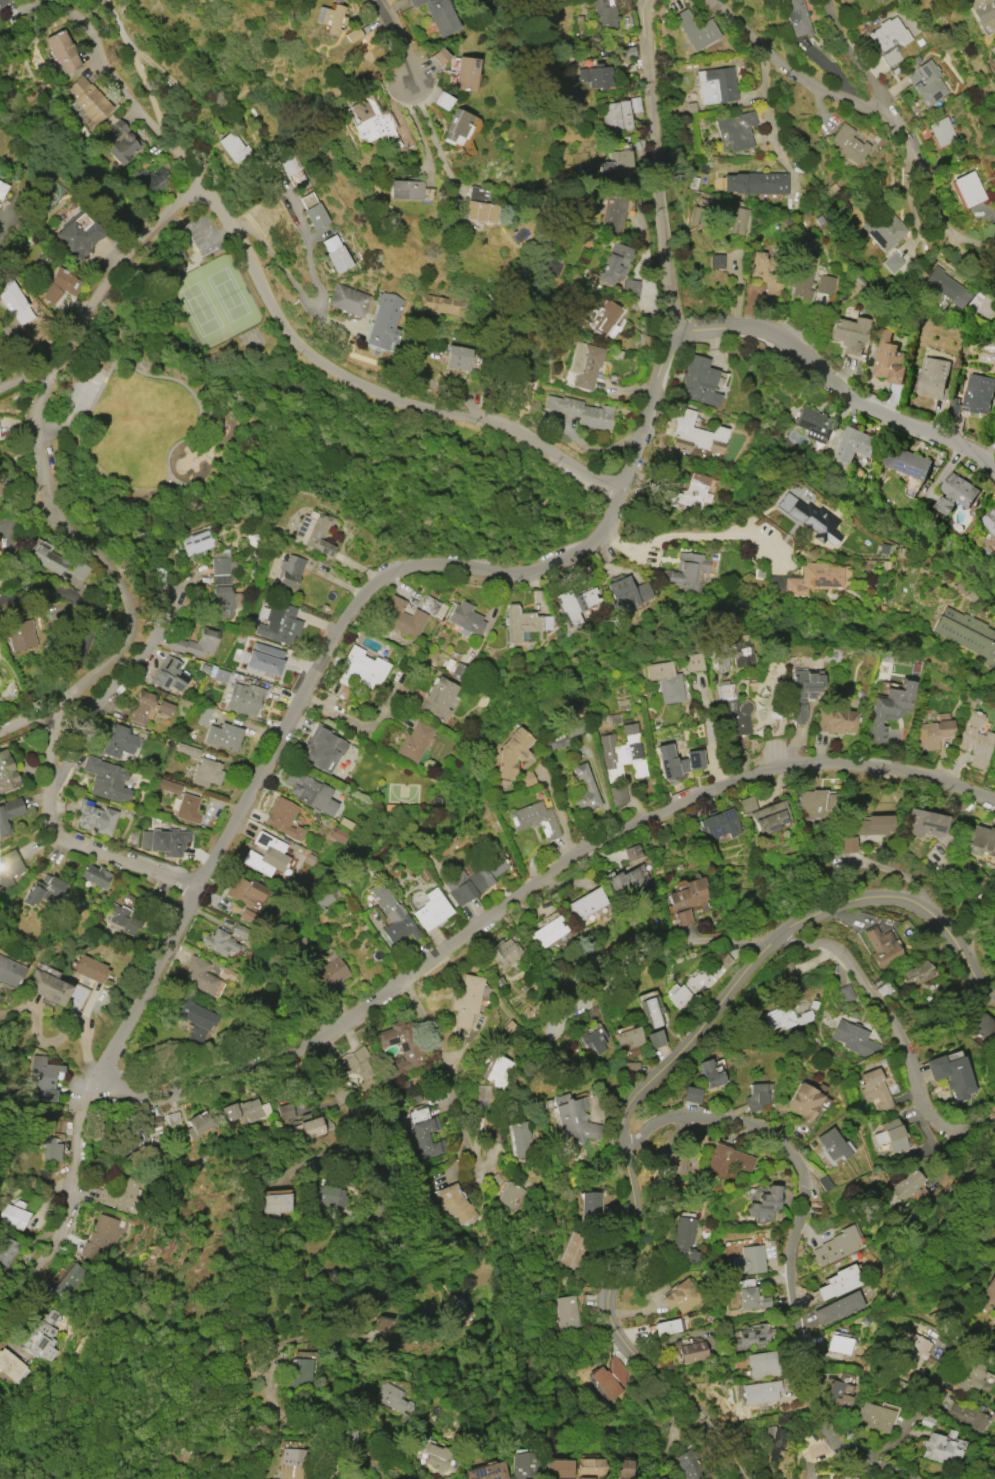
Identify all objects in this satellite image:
building: (3, 2)
building: (983, 13)
building: (438, 15)
building: (605, 15)
building: (796, 17)
building: (332, 19)
building: (696, 30)
building: (888, 33)
road: (393, 34)
building: (353, 35)
building: (61, 51)
building: (993, 59)
road: (789, 71)
building: (464, 73)
road: (139, 74)
building: (595, 76)
building: (927, 83)
building: (716, 85)
building: (89, 99)
building: (442, 100)
road: (768, 115)
building: (616, 116)
building: (373, 122)
building: (456, 127)
road: (430, 131)
building: (735, 131)
building: (941, 132)
building: (121, 142)
building: (848, 143)
road: (898, 146)
building: (233, 147)
building: (288, 163)
building: (615, 164)
road: (663, 165)
building: (152, 177)
building: (755, 183)
building: (2, 188)
building: (405, 189)
building: (968, 189)
building: (477, 205)
building: (611, 213)
building: (720, 215)
building: (315, 216)
building: (883, 227)
building: (78, 238)
road: (209, 239)
building: (335, 254)
building: (716, 261)
road: (966, 261)
building: (613, 263)
building: (803, 271)
building: (764, 273)
building: (824, 285)
building: (59, 286)
building: (631, 287)
building: (946, 287)
park: (215, 297)
building: (14, 300)
building: (347, 300)
road: (313, 302)
building: (440, 304)
road: (275, 314)
building: (602, 317)
building: (383, 321)
building: (849, 333)
road: (16, 343)
building: (458, 358)
building: (888, 360)
building: (585, 365)
road: (818, 370)
road: (23, 374)
park: (175, 376)
building: (933, 378)
building: (698, 381)
building: (978, 394)
building: (517, 396)
building: (580, 411)
building: (812, 424)
road: (636, 431)
building: (695, 434)
building: (855, 444)
road: (975, 452)
building: (907, 462)
building: (690, 491)
building: (955, 493)
road: (25, 515)
building: (810, 518)
building: (989, 521)
building: (314, 532)
road: (667, 540)
building: (197, 542)
building: (46, 559)
road: (99, 566)
building: (687, 571)
building: (289, 572)
building: (813, 578)
building: (223, 588)
building: (626, 591)
building: (575, 602)
building: (433, 607)
road: (85, 611)
building: (402, 618)
building: (465, 618)
building: (278, 623)
building: (525, 623)
building: (966, 634)
building: (20, 635)
building: (203, 642)
building: (733, 653)
building: (263, 658)
building: (693, 661)
building: (360, 668)
building: (170, 675)
building: (666, 682)
building: (340, 692)
road: (109, 693)
building: (801, 693)
building: (243, 698)
building: (437, 698)
building: (763, 701)
building: (148, 707)
building: (887, 709)
building: (735, 713)
building: (201, 715)
road: (25, 719)
building: (835, 721)
road: (711, 732)
building: (932, 732)
building: (561, 734)
building: (223, 736)
building: (974, 739)
building: (119, 741)
building: (414, 741)
building: (321, 749)
building: (187, 750)
building: (512, 753)
building: (622, 755)
building: (677, 762)
building: (994, 768)
building: (7, 772)
building: (206, 772)
building: (106, 779)
building: (168, 786)
road: (603, 786)
building: (585, 790)
building: (309, 792)
building: (619, 795)
building: (746, 804)
building: (815, 804)
building: (187, 808)
road: (557, 809)
building: (9, 814)
building: (770, 816)
building: (283, 818)
building: (96, 819)
building: (536, 819)
building: (924, 823)
building: (718, 824)
building: (870, 825)
road: (226, 833)
building: (337, 836)
building: (982, 839)
building: (164, 841)
building: (266, 855)
building: (8, 868)
building: (95, 875)
building: (628, 880)
building: (472, 881)
road: (530, 888)
building: (43, 890)
building: (243, 890)
building: (685, 900)
building: (585, 904)
building: (432, 909)
building: (248, 915)
building: (394, 916)
building: (121, 918)
building: (548, 932)
building: (218, 942)
road: (687, 944)
building: (881, 947)
building: (504, 952)
building: (90, 969)
building: (785, 970)
building: (9, 972)
building: (329, 973)
building: (915, 974)
building: (200, 975)
building: (693, 985)
building: (46, 987)
building: (846, 993)
building: (467, 1000)
building: (651, 1012)
building: (784, 1018)
building: (194, 1019)
road: (887, 1036)
building: (627, 1037)
building: (853, 1038)
road: (54, 1039)
building: (594, 1039)
building: (654, 1039)
building: (402, 1048)
building: (357, 1067)
building: (498, 1071)
building: (710, 1073)
road: (308, 1075)
building: (951, 1075)
building: (46, 1077)
road: (447, 1078)
road: (652, 1081)
building: (875, 1090)
building: (482, 1093)
building: (690, 1094)
building: (755, 1097)
building: (803, 1101)
building: (243, 1111)
building: (285, 1111)
building: (572, 1118)
building: (162, 1125)
building: (198, 1125)
building: (310, 1127)
building: (427, 1132)
building: (890, 1135)
building: (519, 1139)
building: (831, 1144)
building: (52, 1149)
building: (726, 1160)
building: (671, 1165)
building: (906, 1185)
building: (121, 1195)
building: (328, 1195)
building: (511, 1196)
building: (276, 1204)
building: (458, 1204)
building: (763, 1205)
building: (590, 1209)
building: (14, 1216)
building: (100, 1236)
building: (684, 1238)
road: (793, 1243)
building: (836, 1245)
building: (572, 1250)
building: (7, 1251)
building: (748, 1260)
building: (68, 1281)
building: (839, 1282)
building: (986, 1294)
building: (681, 1296)
building: (751, 1298)
building: (836, 1308)
building: (454, 1309)
building: (566, 1311)
building: (665, 1327)
building: (45, 1336)
building: (752, 1336)
building: (838, 1344)
building: (691, 1352)
building: (913, 1352)
building: (11, 1365)
building: (761, 1365)
building: (299, 1372)
building: (968, 1376)
building: (609, 1378)
building: (760, 1392)
building: (839, 1394)
building: (394, 1398)
building: (873, 1417)
building: (970, 1417)
road: (910, 1424)
building: (776, 1441)
building: (939, 1449)
building: (436, 1456)
building: (291, 1463)
building: (526, 1465)
building: (689, 1465)
building: (592, 1466)
building: (624, 1467)
building: (559, 1469)
building: (488, 1471)
building: (561, 1478)
building: (586, 1478)
building: (851, 1478)

